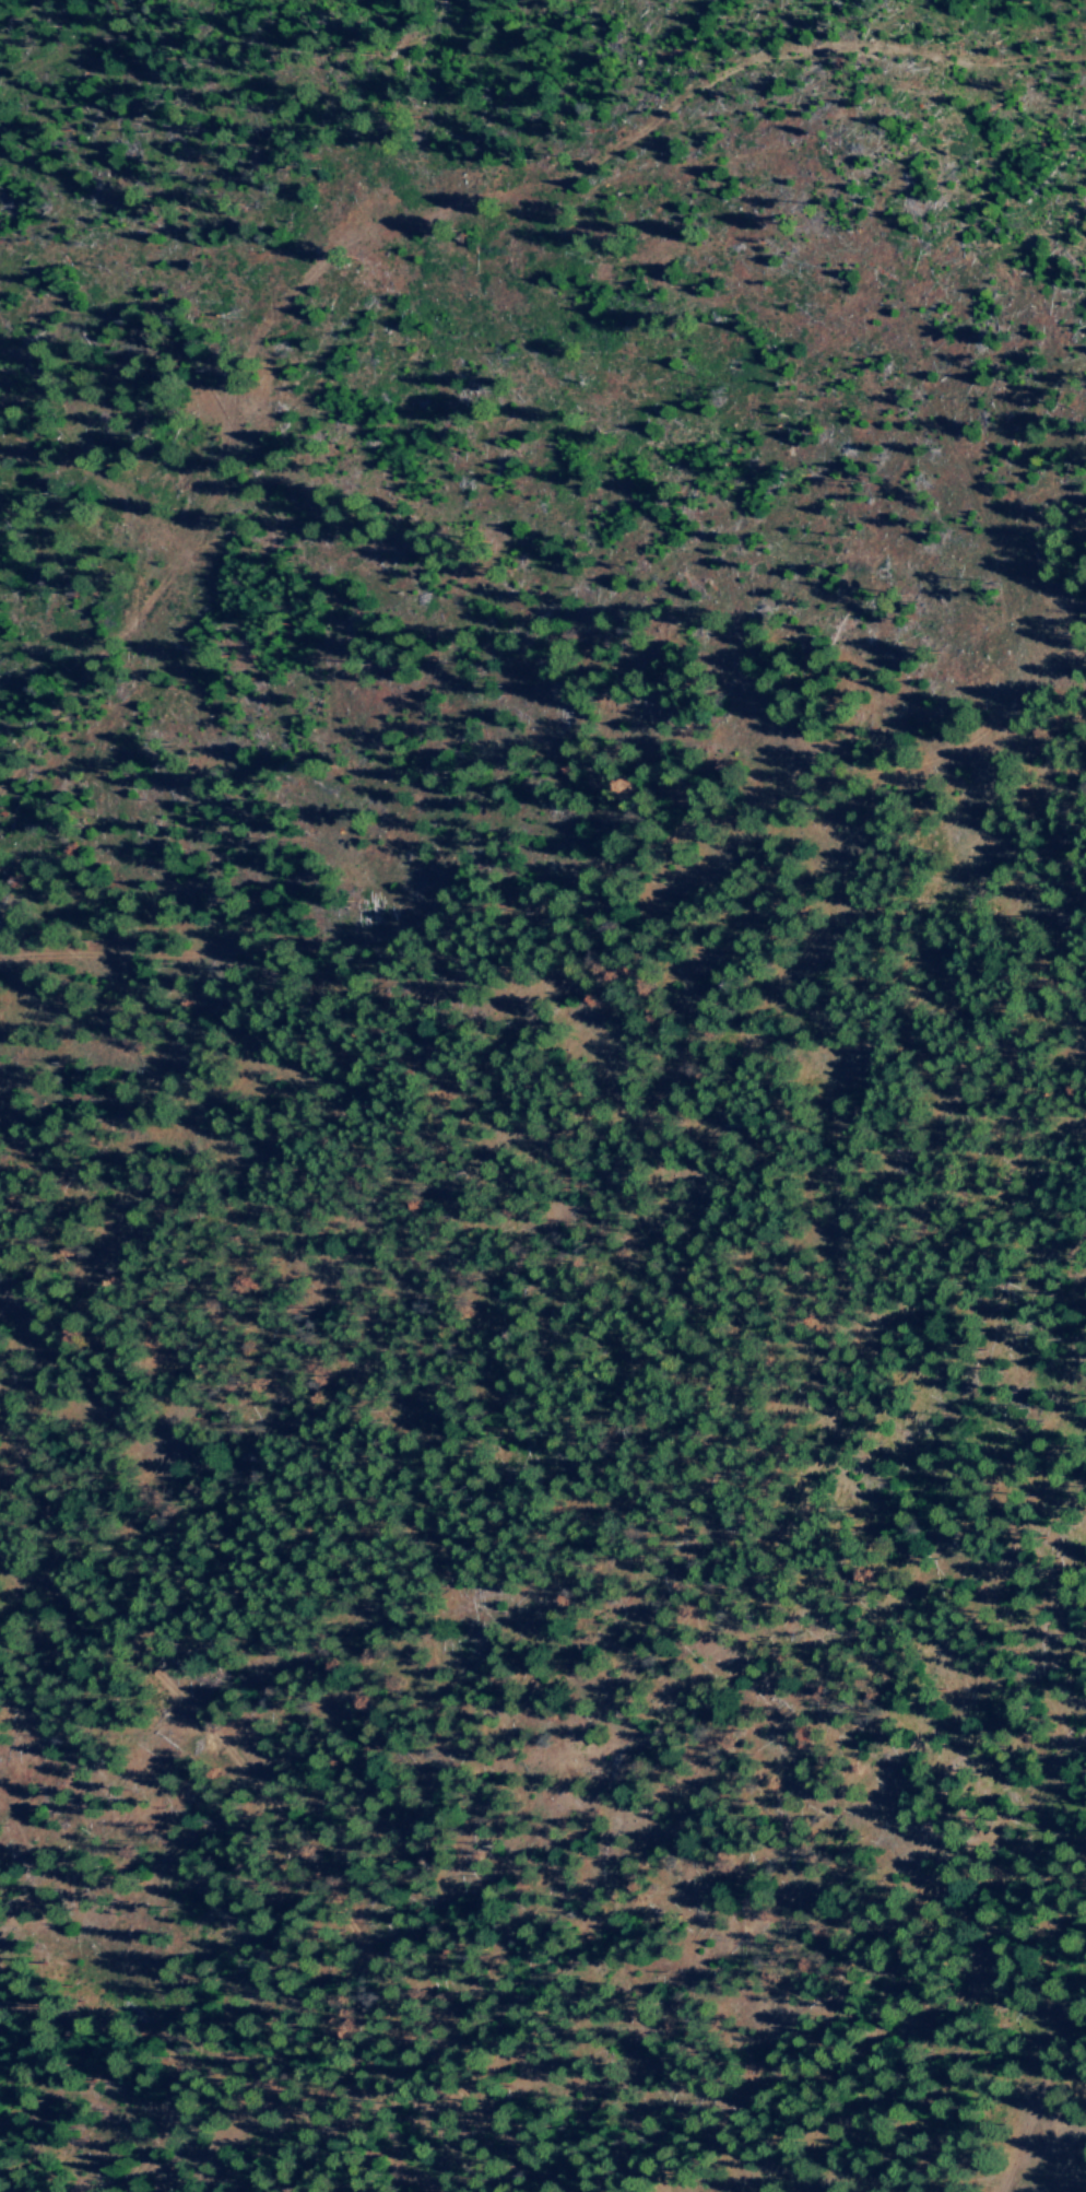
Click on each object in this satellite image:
road: (1017, 2137)

